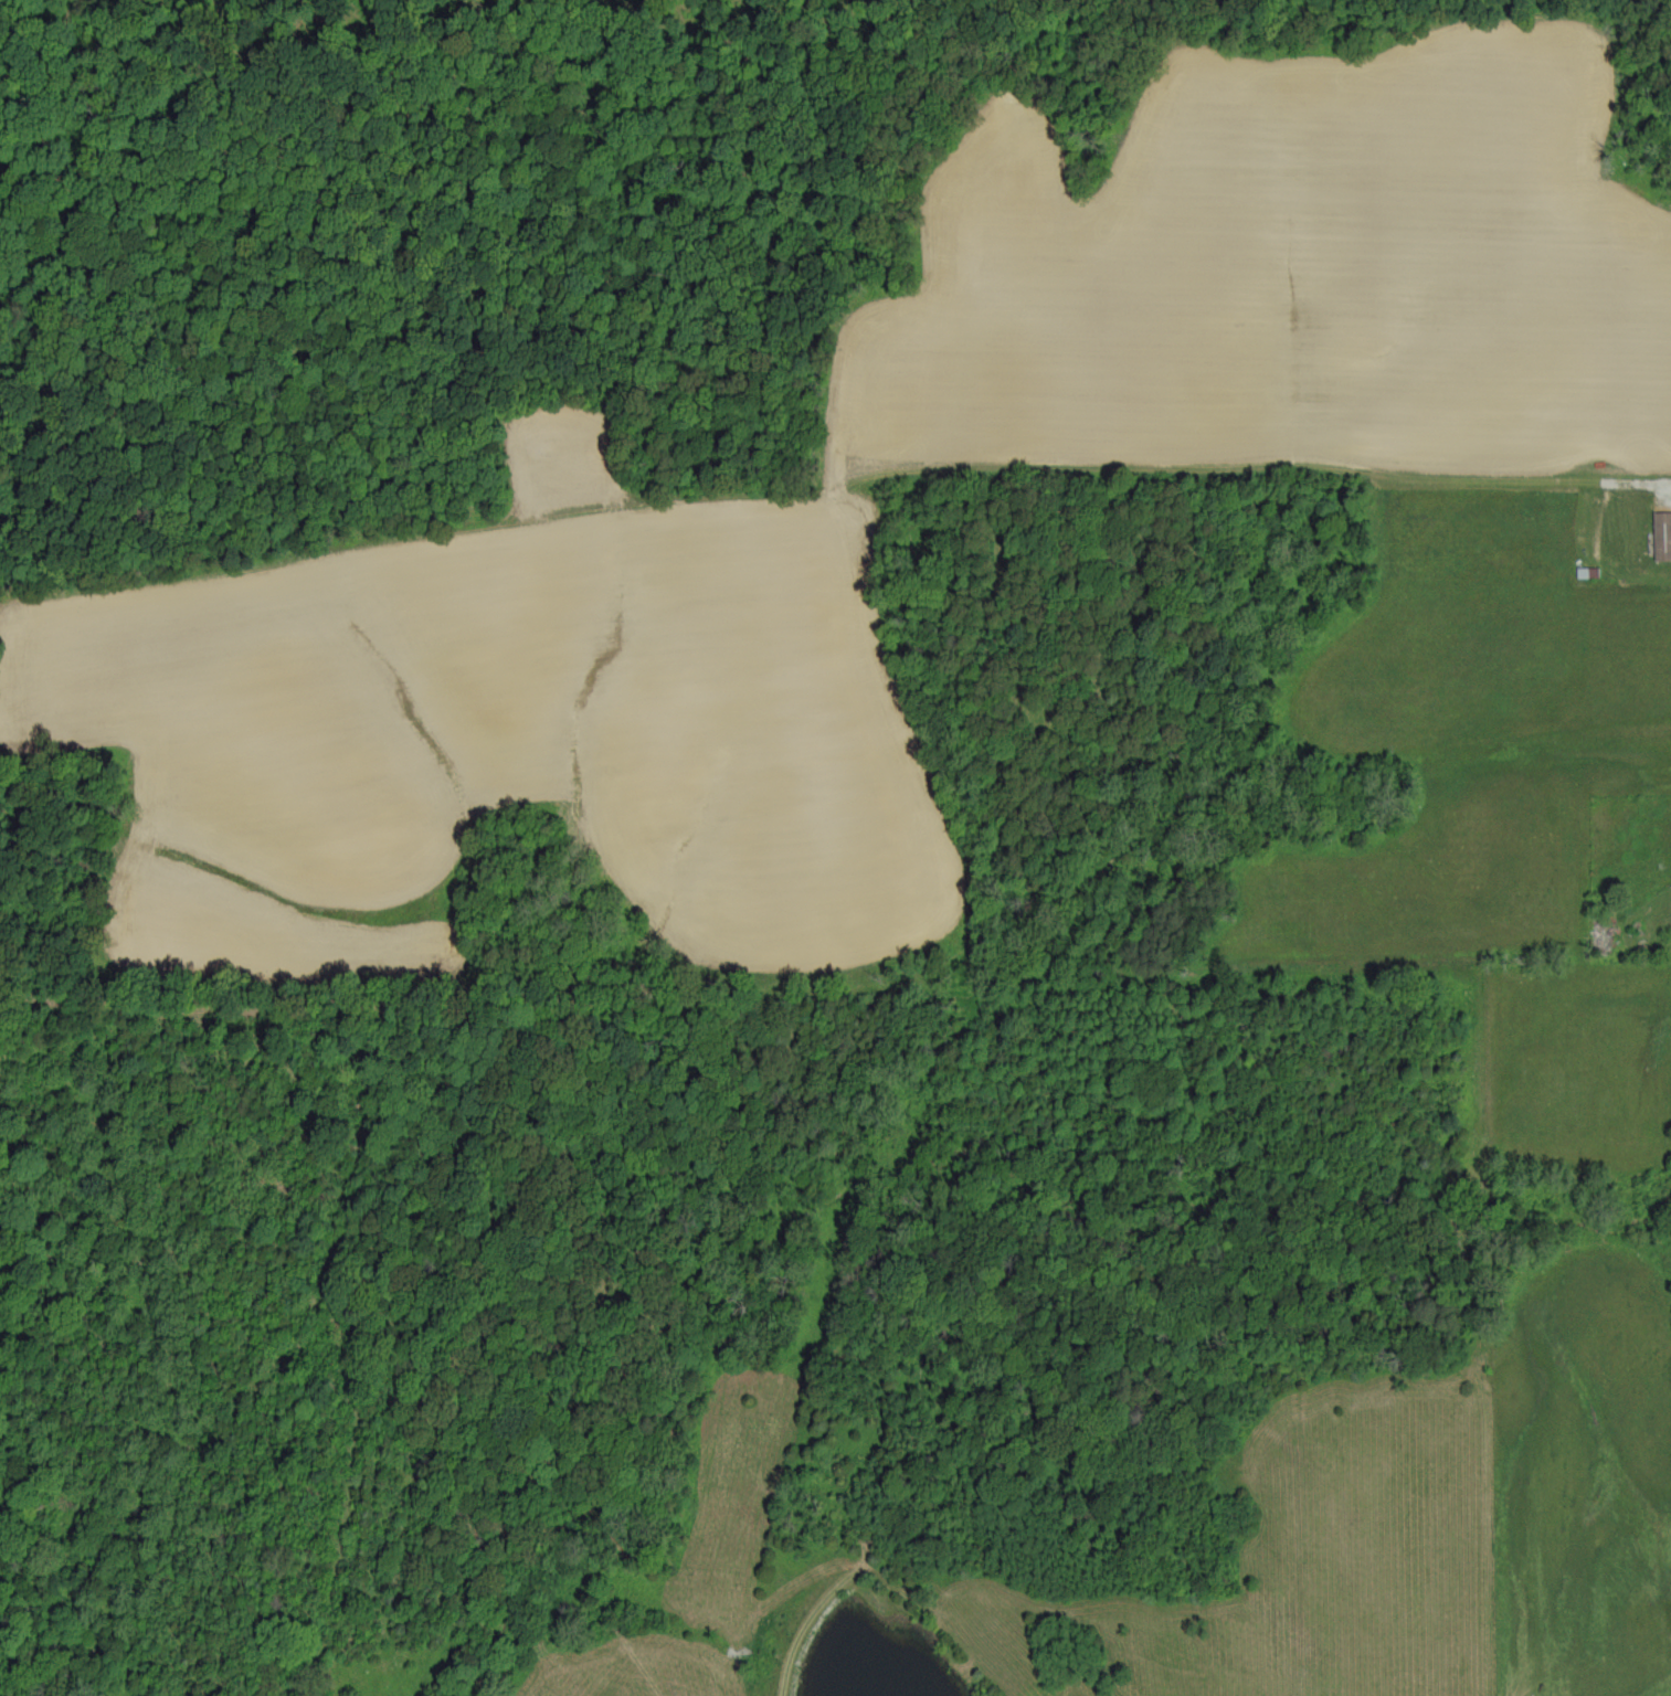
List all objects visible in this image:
building: (1662, 534)

